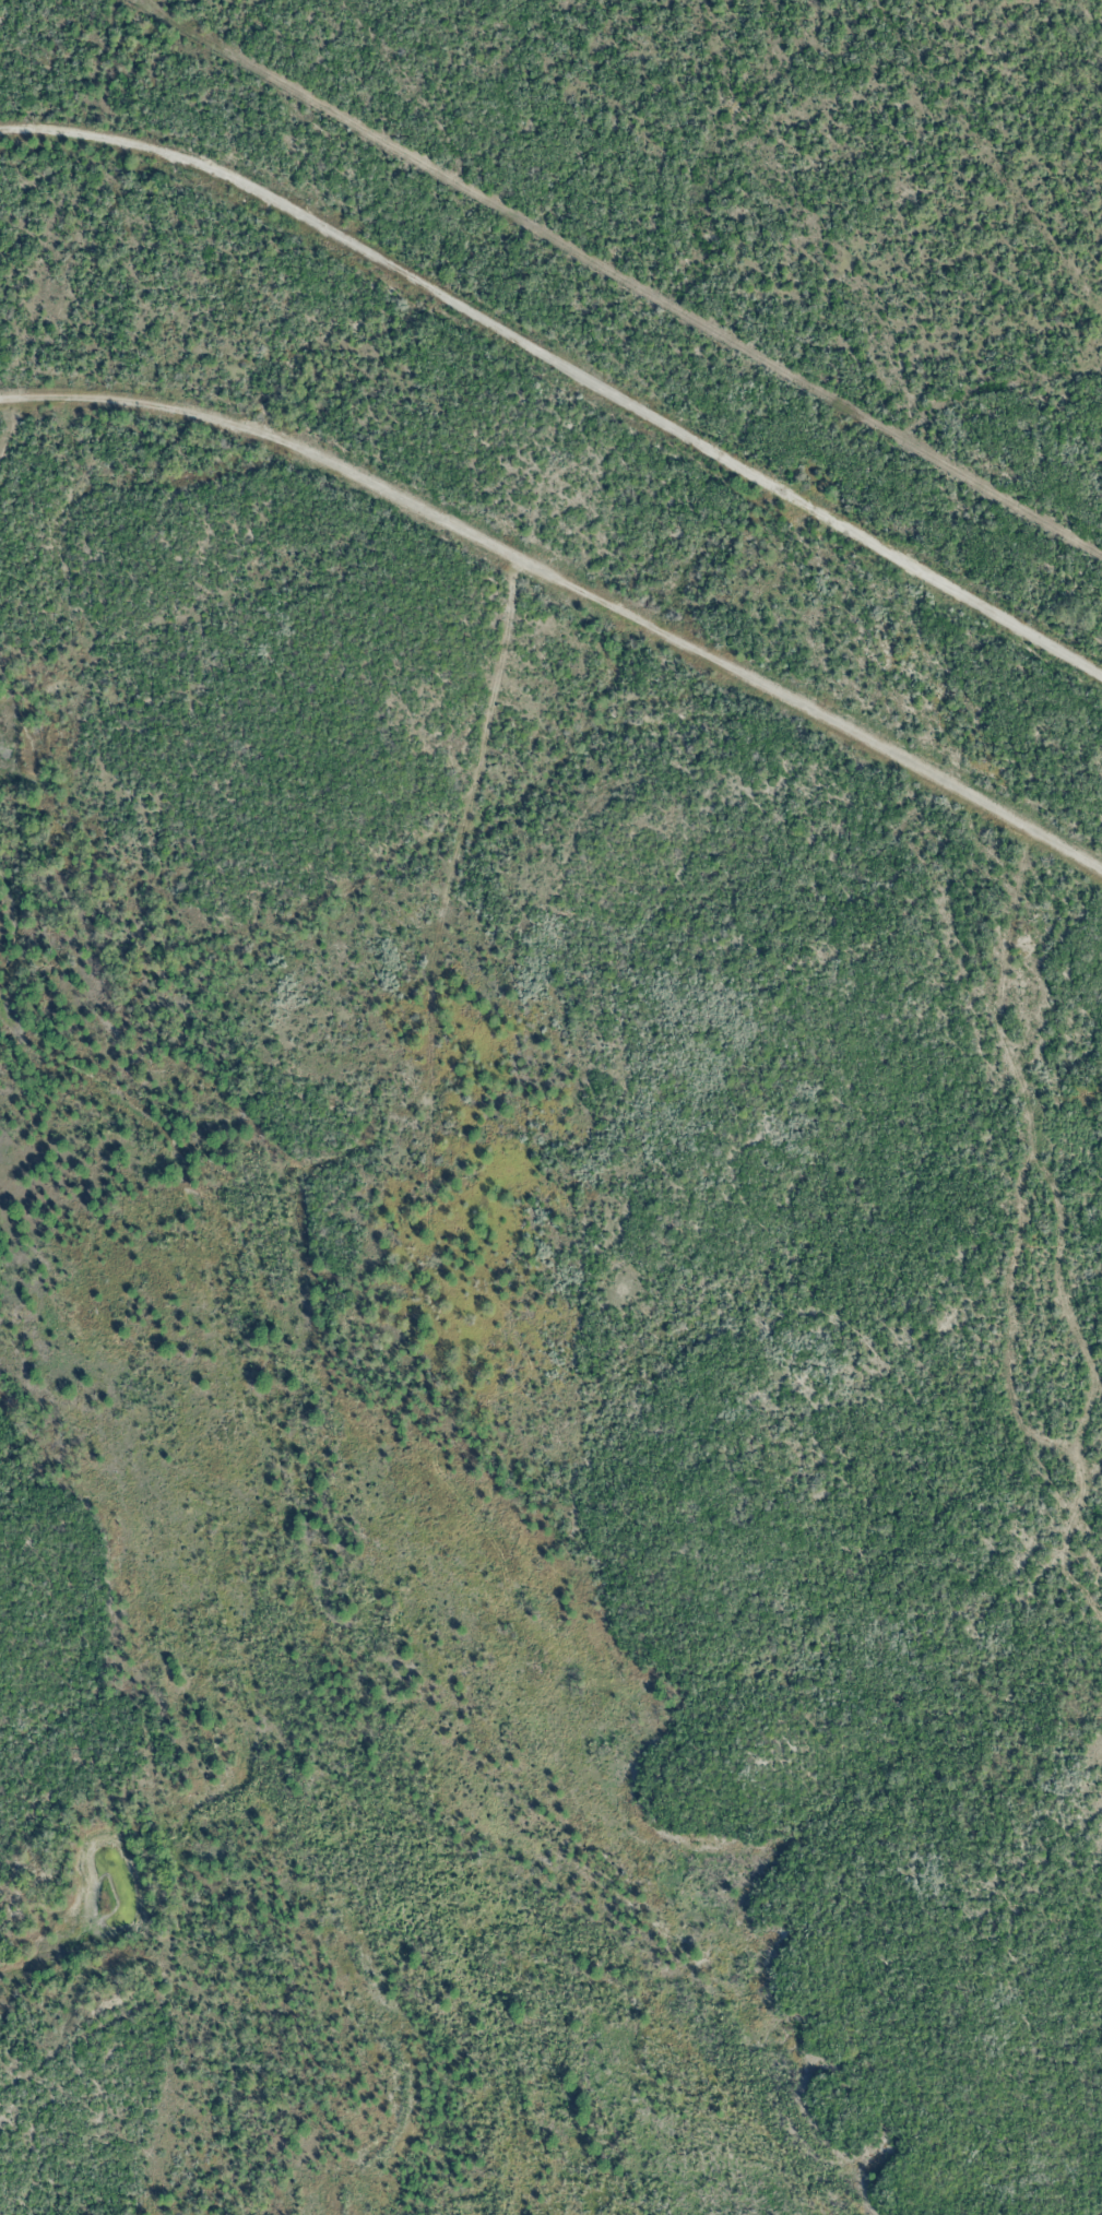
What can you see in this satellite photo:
road: (574, 309)
road: (567, 585)

